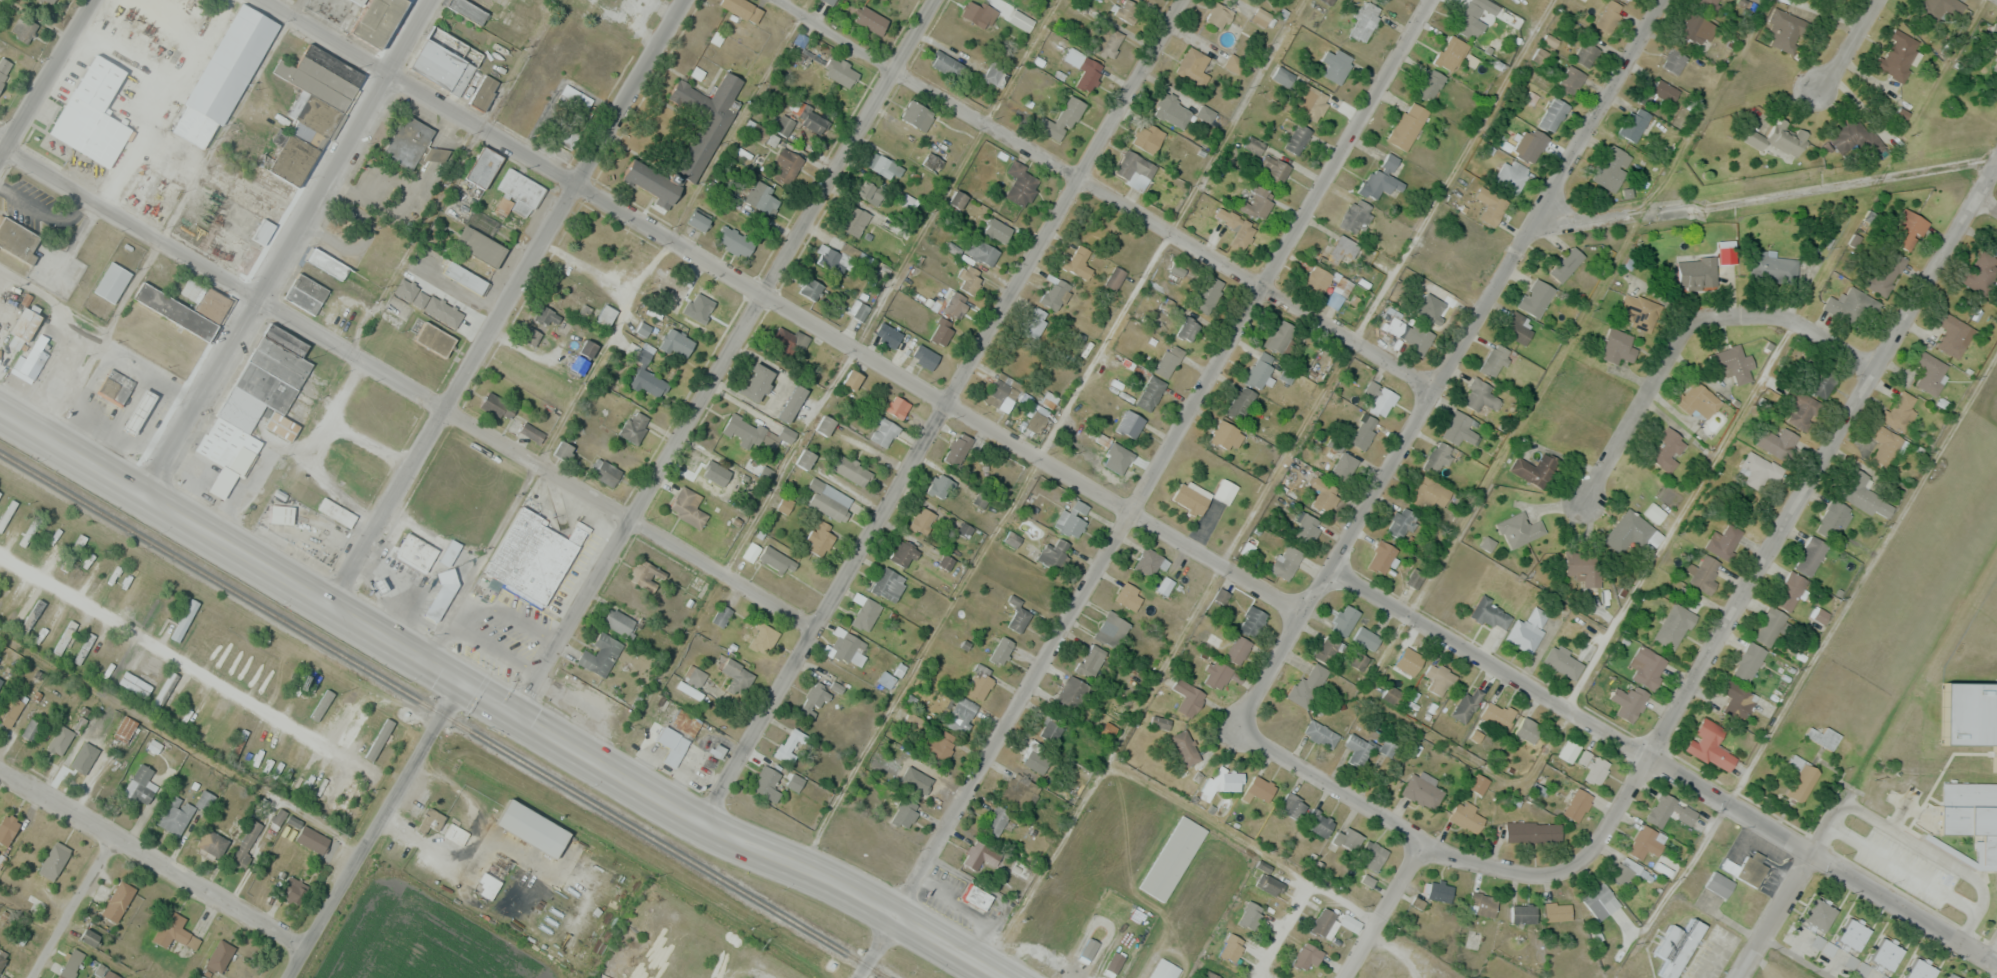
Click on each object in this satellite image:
building: (1630, 0)
building: (1837, 0)
building: (47, 1)
building: (360, 1)
building: (829, 1)
building: (1329, 1)
building: (1708, 3)
building: (738, 7)
building: (1126, 9)
building: (468, 10)
building: (1941, 10)
building: (977, 13)
building: (1217, 16)
building: (1474, 16)
building: (1261, 17)
building: (1608, 18)
building: (871, 20)
building: (1364, 21)
building: (377, 24)
building: (24, 28)
building: (1995, 28)
building: (1695, 29)
building: (1786, 31)
building: (1109, 42)
road: (1848, 44)
building: (1995, 47)
building: (1587, 51)
building: (1451, 53)
building: (1898, 55)
building: (446, 61)
building: (1674, 61)
building: (947, 64)
building: (1193, 65)
building: (1338, 66)
building: (1995, 67)
building: (4, 68)
building: (233, 68)
building: (1084, 69)
building: (842, 72)
building: (996, 74)
building: (1570, 80)
road: (48, 81)
building: (326, 82)
building: (1430, 84)
building: (1664, 91)
building: (484, 92)
building: (1312, 104)
building: (1173, 110)
building: (1205, 113)
building: (568, 114)
building: (1553, 114)
building: (917, 115)
building: (1062, 119)
building: (93, 120)
building: (704, 121)
building: (813, 121)
building: (783, 124)
building: (1634, 124)
building: (1408, 125)
building: (1780, 137)
building: (1854, 137)
building: (1148, 138)
building: (1296, 138)
building: (407, 142)
building: (1530, 144)
building: (436, 155)
building: (933, 161)
building: (786, 165)
building: (885, 166)
building: (483, 167)
building: (1274, 167)
building: (1611, 168)
building: (1135, 170)
building: (1512, 176)
building: (1383, 178)
building: (653, 183)
building: (1021, 184)
building: (869, 191)
building: (522, 192)
road: (1110, 195)
building: (763, 198)
building: (908, 199)
building: (958, 199)
road: (1987, 200)
building: (1258, 203)
building: (1491, 205)
building: (1354, 215)
building: (700, 219)
building: (853, 220)
building: (1236, 227)
building: (1906, 229)
building: (998, 230)
building: (263, 231)
building: (18, 240)
building: (734, 241)
road: (288, 246)
building: (483, 248)
building: (1339, 248)
building: (982, 251)
building: (835, 259)
building: (1076, 261)
building: (327, 263)
building: (1566, 264)
building: (1774, 267)
building: (1883, 270)
building: (1696, 272)
building: (1980, 272)
building: (1175, 273)
building: (970, 280)
building: (1317, 281)
building: (465, 282)
building: (111, 286)
building: (1342, 286)
building: (811, 289)
building: (306, 293)
building: (1055, 293)
building: (1207, 293)
building: (1536, 297)
building: (692, 300)
road: (504, 303)
building: (1167, 304)
road: (789, 305)
building: (956, 305)
building: (1437, 306)
building: (1854, 307)
building: (188, 309)
building: (859, 309)
building: (1639, 311)
building: (606, 315)
building: (548, 316)
building: (1035, 322)
road: (1687, 324)
building: (1517, 328)
building: (1188, 329)
building: (26, 331)
building: (942, 332)
building: (1410, 334)
building: (1953, 334)
building: (888, 335)
building: (1279, 335)
building: (532, 336)
building: (792, 339)
building: (434, 343)
building: (1617, 348)
building: (588, 349)
building: (924, 356)
road: (727, 359)
building: (1494, 360)
building: (1169, 361)
building: (33, 362)
building: (1734, 363)
building: (579, 365)
road: (1457, 366)
building: (1930, 372)
building: (1258, 373)
building: (853, 379)
building: (649, 382)
building: (1821, 383)
road: (406, 384)
building: (115, 390)
building: (1003, 392)
building: (1150, 393)
building: (1481, 396)
building: (1380, 397)
building: (1699, 400)
building: (1241, 402)
building: (792, 404)
building: (496, 406)
building: (898, 407)
road: (936, 408)
building: (1801, 410)
building: (1040, 411)
building: (1901, 412)
building: (138, 416)
building: (1130, 423)
building: (825, 425)
building: (633, 428)
building: (1460, 428)
building: (745, 431)
building: (1363, 431)
building: (532, 432)
building: (883, 432)
building: (1223, 435)
building: (1777, 442)
building: (1885, 444)
building: (959, 449)
building: (1666, 449)
building: (563, 450)
building: (1110, 455)
building: (1437, 457)
building: (805, 459)
building: (1343, 467)
building: (1535, 469)
building: (851, 470)
building: (1759, 470)
building: (717, 472)
building: (605, 473)
building: (222, 486)
building: (939, 486)
road: (1143, 488)
building: (1225, 491)
building: (1859, 491)
building: (0, 492)
building: (1428, 492)
building: (1323, 495)
building: (1191, 497)
building: (829, 501)
building: (784, 505)
building: (687, 507)
building: (7, 513)
building: (336, 515)
building: (280, 517)
building: (1074, 519)
building: (1833, 519)
building: (922, 520)
building: (1401, 523)
building: (1306, 528)
road: (1776, 528)
building: (1519, 530)
building: (1628, 531)
building: (27, 534)
building: (820, 539)
building: (1725, 541)
building: (450, 553)
building: (904, 554)
building: (1053, 554)
building: (415, 556)
building: (1811, 556)
building: (1382, 557)
building: (528, 561)
building: (778, 561)
building: (1286, 562)
building: (1150, 563)
building: (1584, 565)
building: (1703, 573)
building: (1414, 579)
building: (888, 584)
building: (1790, 591)
building: (442, 596)
building: (1129, 596)
building: (1489, 613)
building: (866, 615)
building: (1018, 615)
building: (721, 616)
building: (184, 620)
building: (1345, 620)
building: (619, 622)
building: (1252, 622)
building: (1675, 626)
building: (1771, 627)
building: (1111, 630)
building: (1528, 630)
building: (1367, 639)
building: (765, 640)
building: (1326, 649)
building: (849, 650)
building: (1237, 650)
building: (1001, 651)
building: (601, 655)
building: (1091, 661)
building: (1564, 662)
building: (1748, 662)
building: (1406, 664)
building: (1648, 667)
building: (1217, 675)
building: (694, 676)
building: (0, 677)
building: (737, 677)
building: (1440, 679)
building: (886, 680)
building: (979, 683)
building: (1308, 687)
building: (164, 690)
building: (1072, 693)
building: (1395, 696)
building: (814, 698)
building: (1188, 698)
building: (596, 699)
building: (1629, 701)
building: (1737, 701)
building: (324, 705)
road: (496, 705)
building: (1466, 706)
building: (11, 707)
railway: (446, 714)
building: (961, 715)
building: (1497, 715)
building: (31, 729)
building: (128, 729)
building: (1529, 730)
building: (1051, 731)
building: (1321, 734)
building: (1829, 738)
building: (59, 742)
road: (1450, 744)
building: (938, 745)
building: (1710, 745)
building: (672, 746)
building: (786, 746)
building: (1186, 748)
building: (1366, 749)
building: (1569, 750)
building: (1954, 754)
building: (82, 757)
building: (1037, 758)
road: (1666, 766)
building: (108, 776)
building: (1802, 779)
building: (924, 781)
building: (1232, 782)
building: (1479, 783)
building: (141, 784)
building: (768, 785)
building: (1422, 789)
building: (1259, 790)
building: (1923, 792)
building: (1020, 793)
building: (1968, 794)
building: (347, 796)
building: (205, 799)
building: (1578, 804)
building: (1293, 807)
building: (1670, 810)
building: (174, 814)
building: (905, 814)
building: (1467, 815)
road: (1384, 817)
building: (277, 818)
building: (996, 821)
building: (1319, 822)
building: (7, 828)
road: (371, 830)
building: (1533, 832)
building: (532, 833)
building: (456, 838)
building: (1348, 838)
building: (312, 839)
building: (1645, 841)
building: (214, 844)
building: (246, 844)
building: (1989, 852)
building: (979, 855)
building: (1373, 855)
road: (151, 858)
building: (53, 861)
building: (1172, 862)
building: (1664, 863)
building: (1748, 868)
building: (1625, 872)
building: (1267, 880)
building: (490, 881)
building: (1719, 883)
building: (1440, 892)
building: (977, 896)
building: (1601, 898)
building: (117, 899)
building: (35, 902)
building: (1484, 904)
road: (74, 908)
road: (1379, 908)
building: (1558, 911)
building: (1523, 913)
building: (1819, 914)
building: (1250, 915)
road: (1774, 917)
building: (1325, 923)
building: (175, 932)
building: (1854, 934)
building: (90, 937)
building: (1232, 948)
building: (1087, 949)
building: (1887, 954)
building: (219, 955)
building: (1307, 955)
building: (3, 957)
building: (72, 964)
building: (1114, 964)
building: (1921, 970)
building: (1165, 972)
building: (112, 975)
building: (1210, 975)
building: (749, 977)

